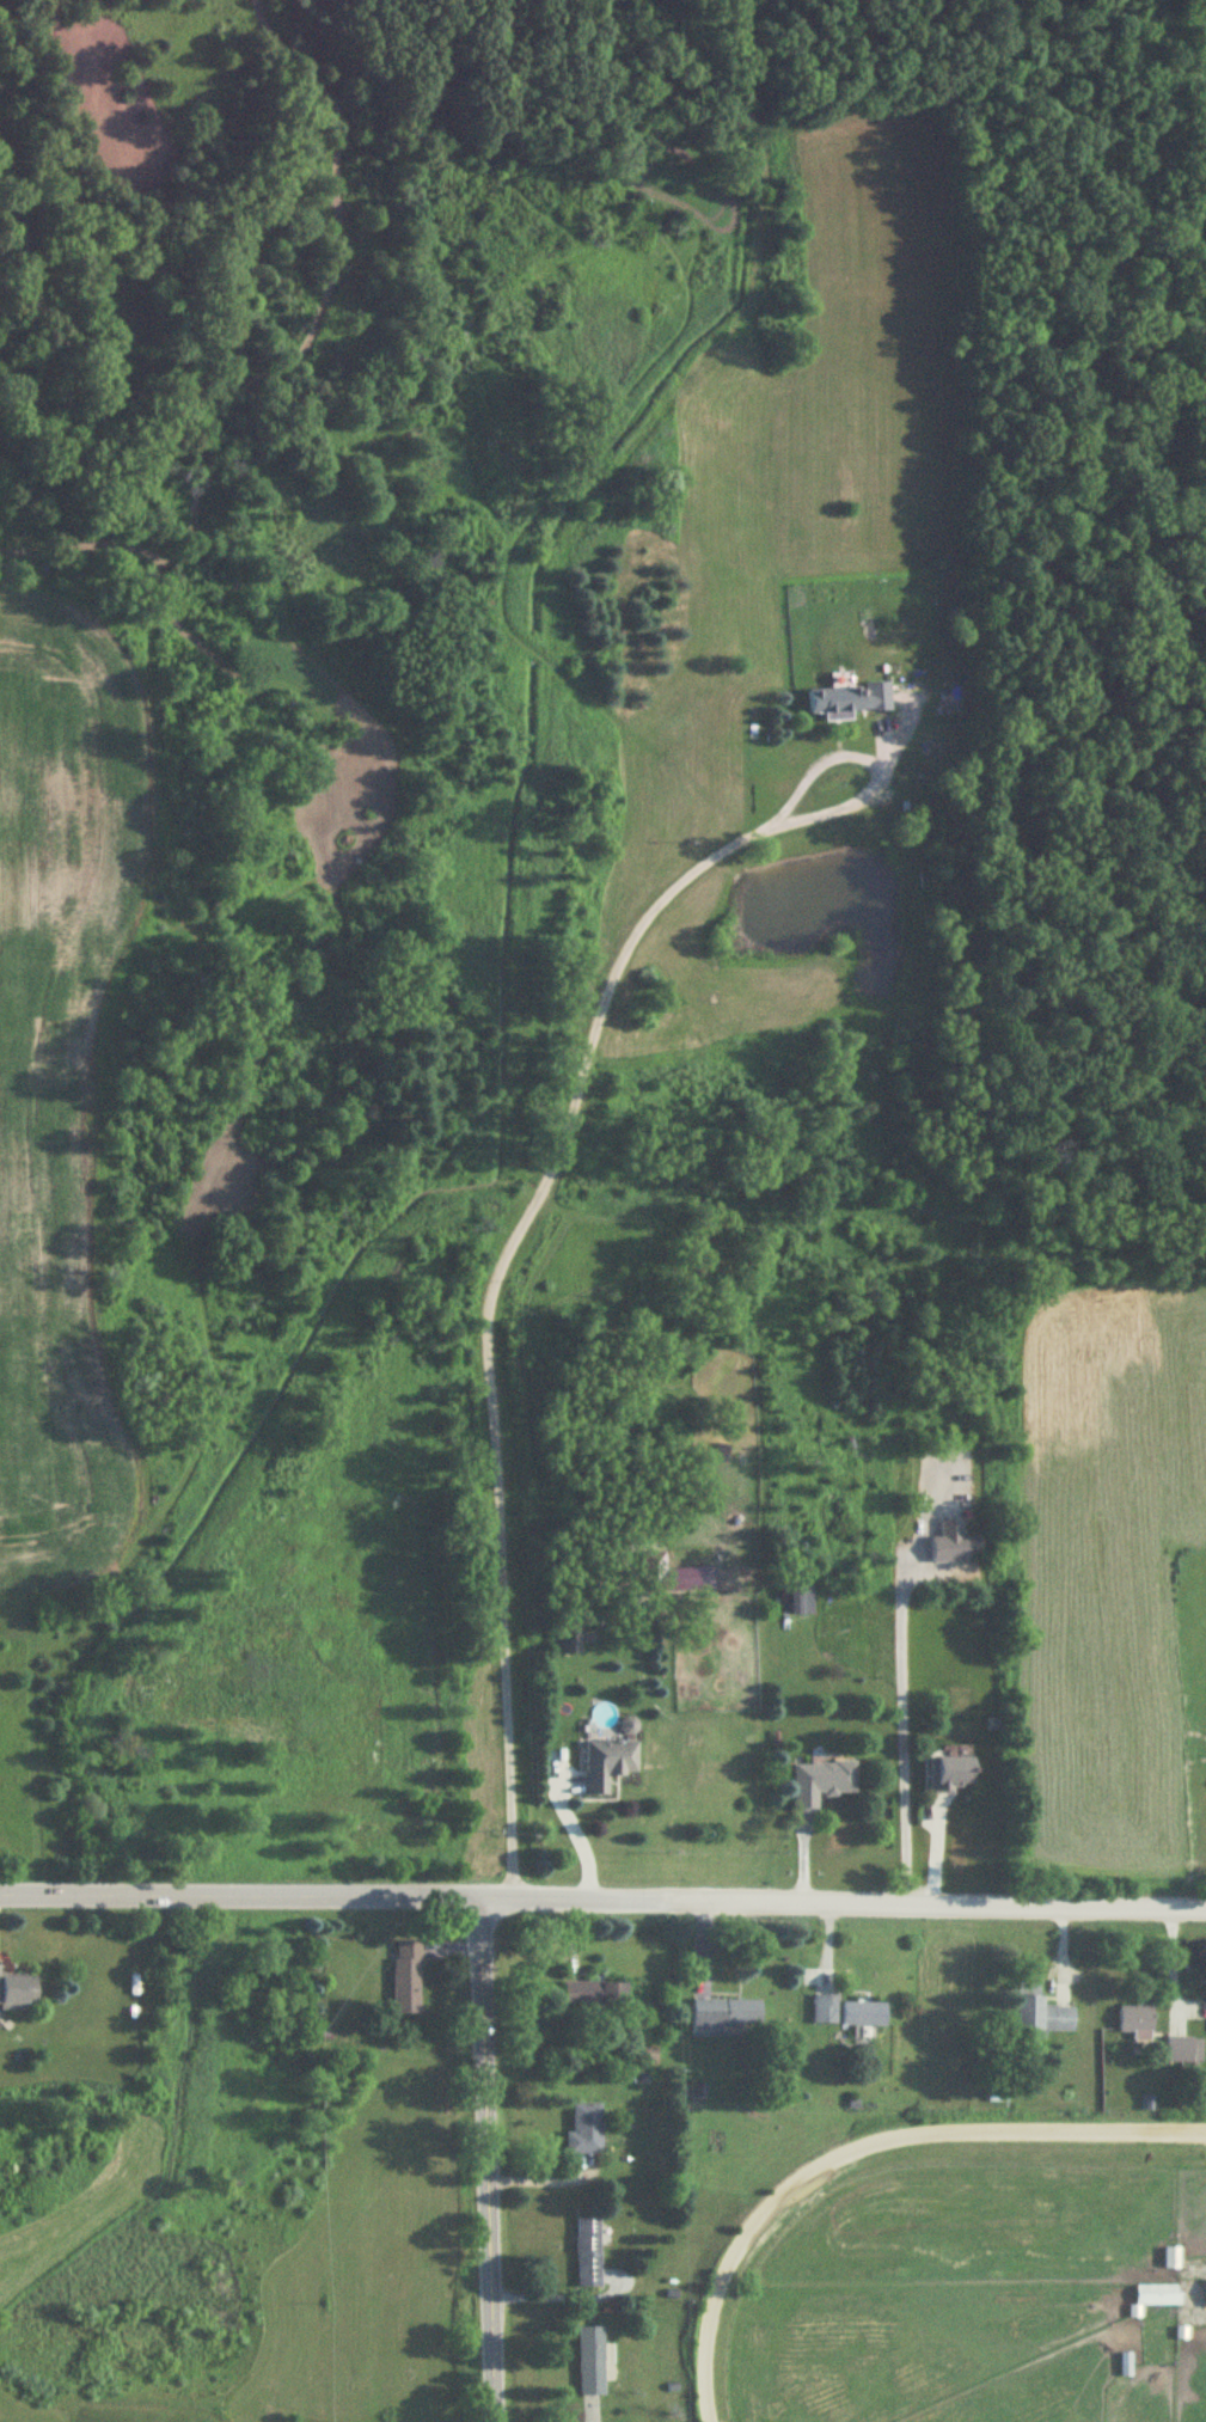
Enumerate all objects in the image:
building: (849, 699)
road: (500, 1271)
building: (720, 1454)
building: (953, 1545)
building: (796, 1601)
building: (567, 1633)
road: (901, 1738)
building: (608, 1764)
building: (957, 1774)
building: (821, 1784)
road: (333, 1892)
road: (937, 1902)
building: (406, 1978)
building: (18, 1993)
building: (594, 1998)
building: (824, 2011)
building: (1039, 2013)
building: (723, 2016)
building: (864, 2018)
building: (1135, 2023)
building: (1183, 2051)
building: (584, 2130)
road: (858, 2141)
road: (478, 2158)
building: (588, 2253)
building: (1169, 2259)
building: (1157, 2296)
road: (555, 2299)
building: (592, 2362)
building: (1124, 2365)

